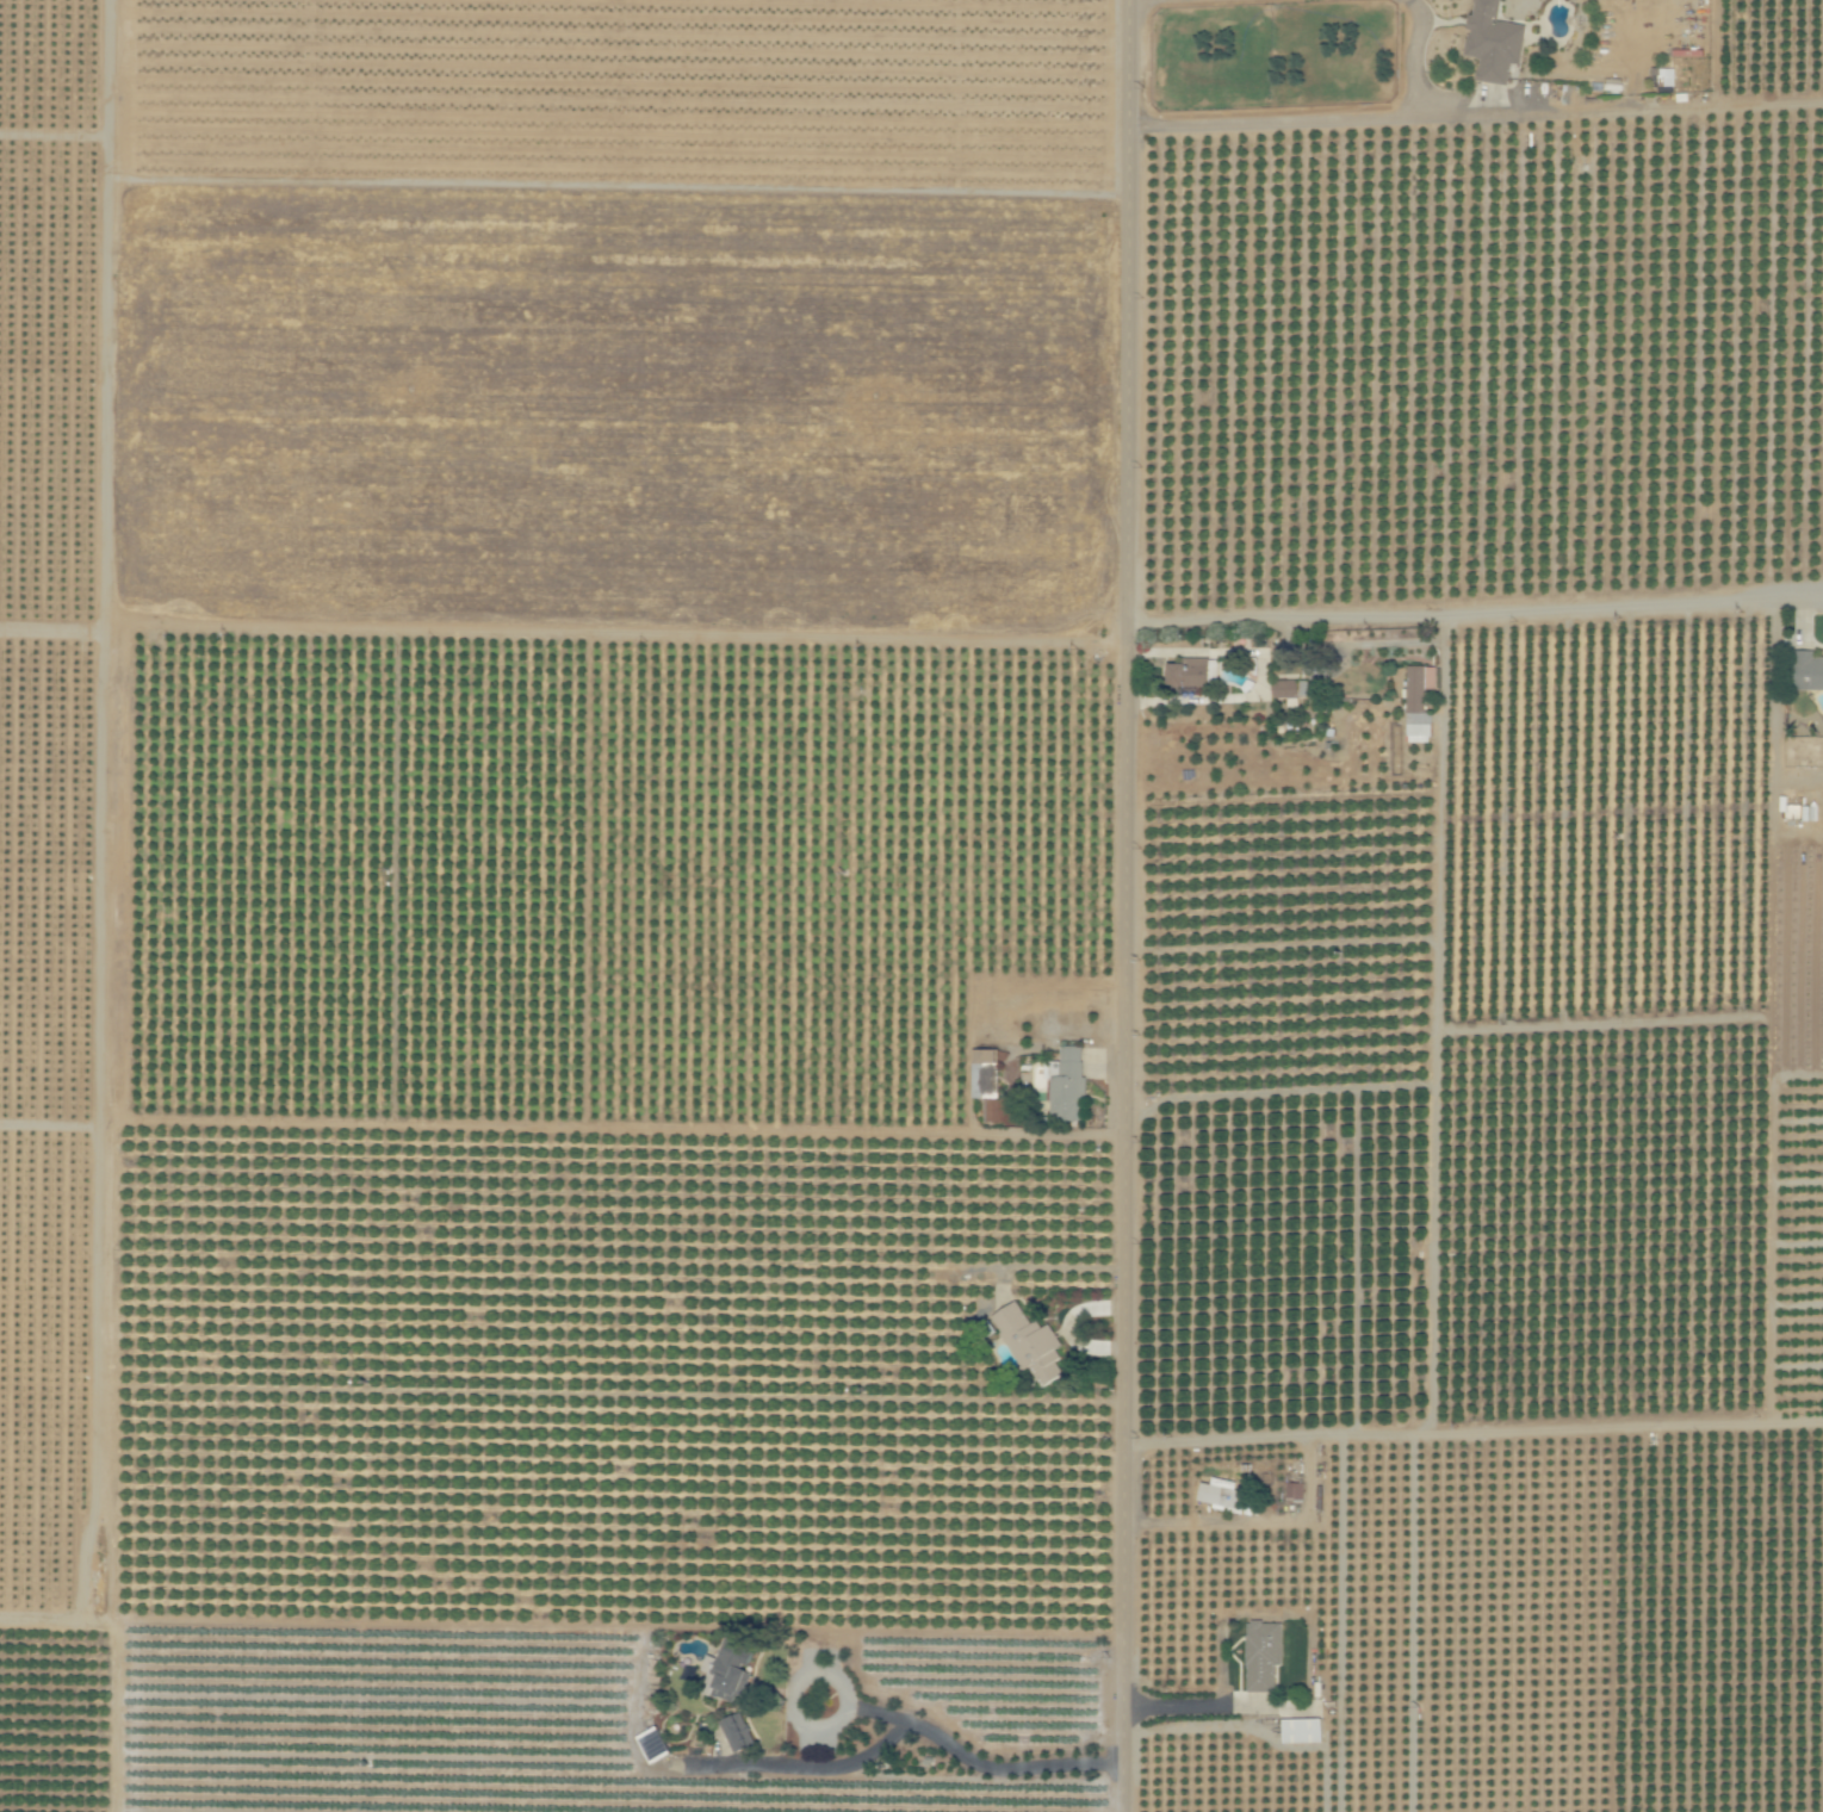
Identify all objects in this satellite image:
building: (1490, 42)
road: (1334, 119)
road: (1476, 610)
building: (1214, 670)
building: (1805, 671)
building: (1185, 675)
building: (1288, 688)
building: (1418, 703)
road: (1127, 905)
crop: (911, 906)
building: (982, 1074)
building: (1065, 1085)
building: (1027, 1341)
road: (1472, 1432)
building: (1292, 1491)
building: (1220, 1495)
building: (1261, 1653)
building: (725, 1671)
building: (1300, 1730)
building: (734, 1731)
road: (965, 1757)

